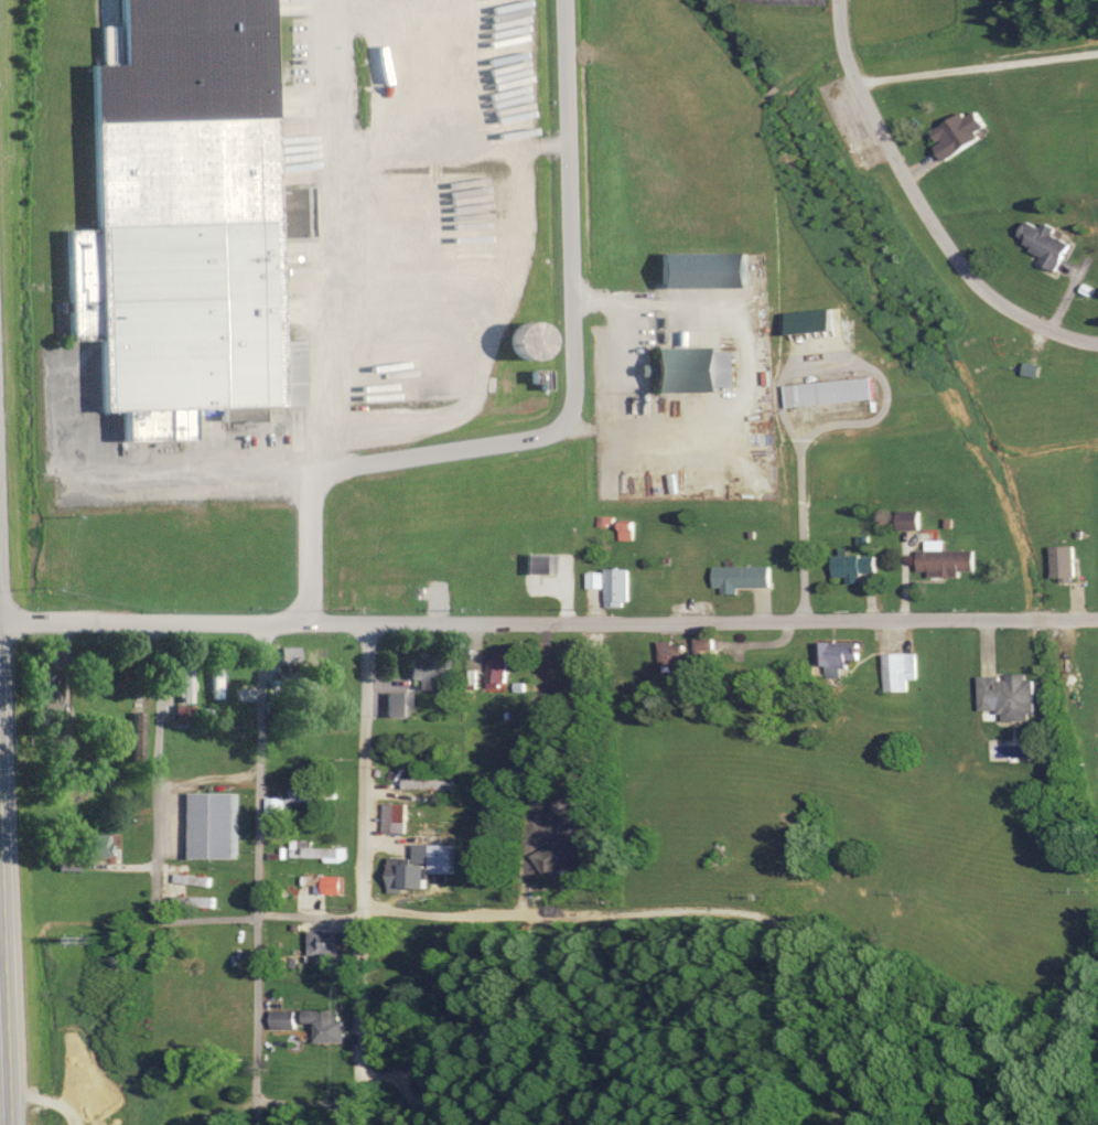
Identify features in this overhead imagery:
road: (977, 65)
building: (960, 132)
road: (923, 210)
building: (185, 221)
building: (1046, 244)
building: (532, 341)
park: (984, 347)
building: (699, 369)
building: (543, 381)
park: (1026, 383)
building: (831, 393)
road: (569, 408)
building: (909, 521)
building: (946, 561)
building: (540, 562)
building: (1065, 564)
building: (854, 567)
building: (744, 577)
building: (618, 587)
road: (184, 620)
road: (733, 621)
building: (289, 653)
building: (688, 655)
building: (838, 655)
building: (497, 671)
building: (898, 671)
building: (430, 672)
building: (216, 677)
building: (50, 687)
building: (184, 689)
building: (1010, 695)
building: (397, 704)
road: (260, 768)
road: (159, 769)
building: (428, 784)
road: (209, 786)
building: (314, 794)
building: (278, 806)
building: (395, 817)
building: (219, 824)
building: (570, 827)
building: (107, 844)
building: (316, 850)
building: (423, 866)
road: (362, 874)
building: (326, 883)
road: (675, 907)
road: (262, 913)
building: (325, 947)
road: (4, 993)
road: (257, 1008)
building: (284, 1019)
building: (329, 1025)
road: (308, 1102)
road: (257, 1113)

